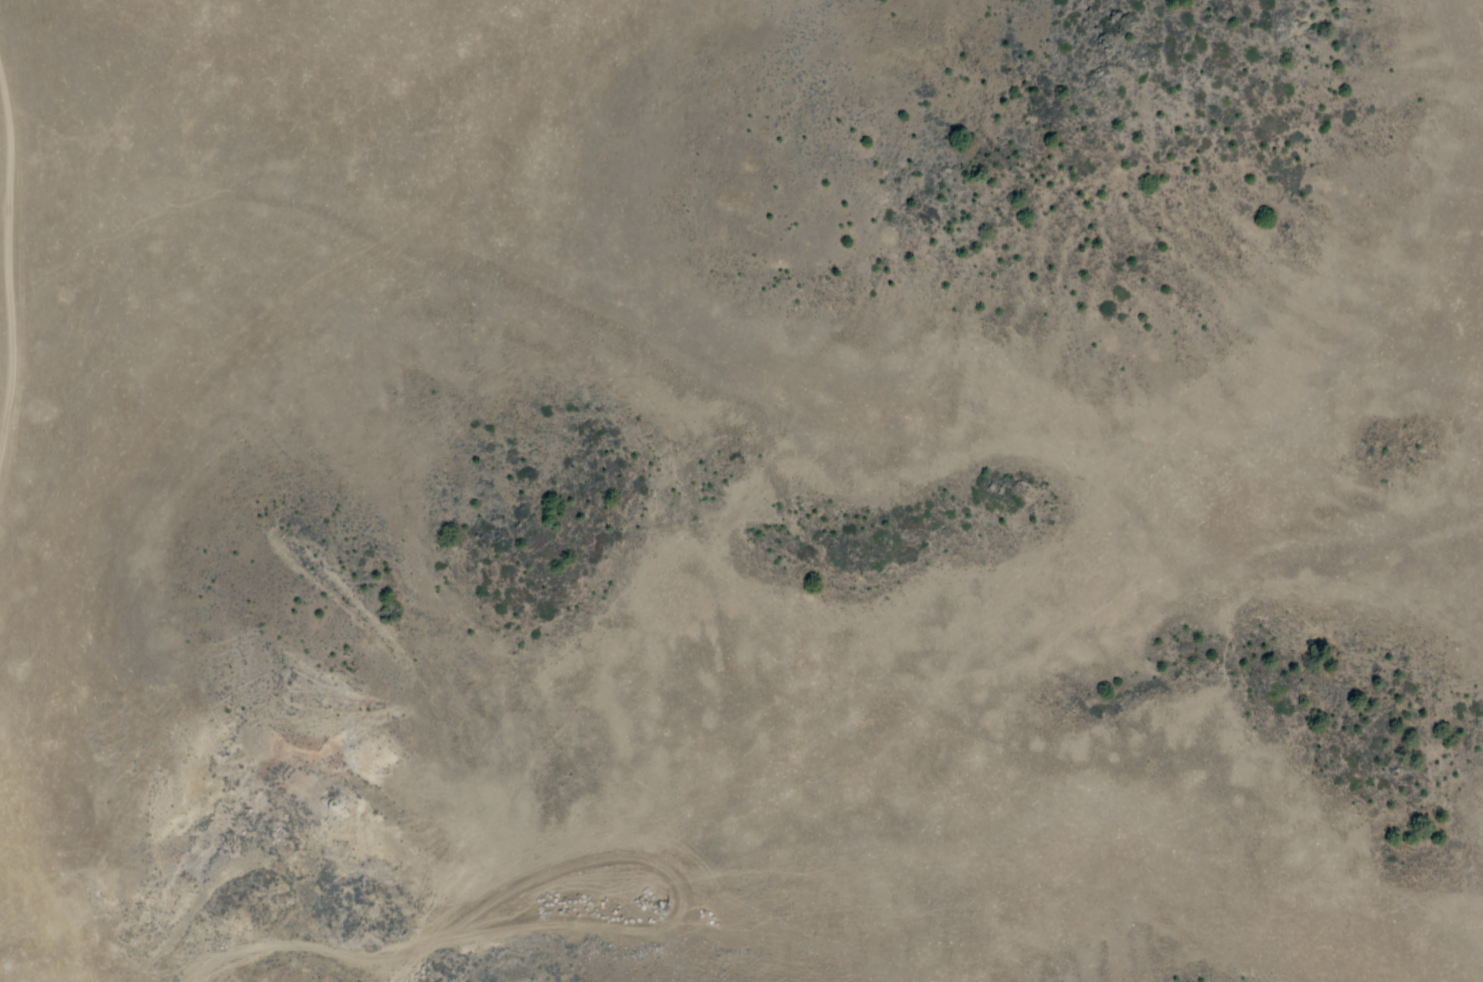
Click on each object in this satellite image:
road: (5, 250)

